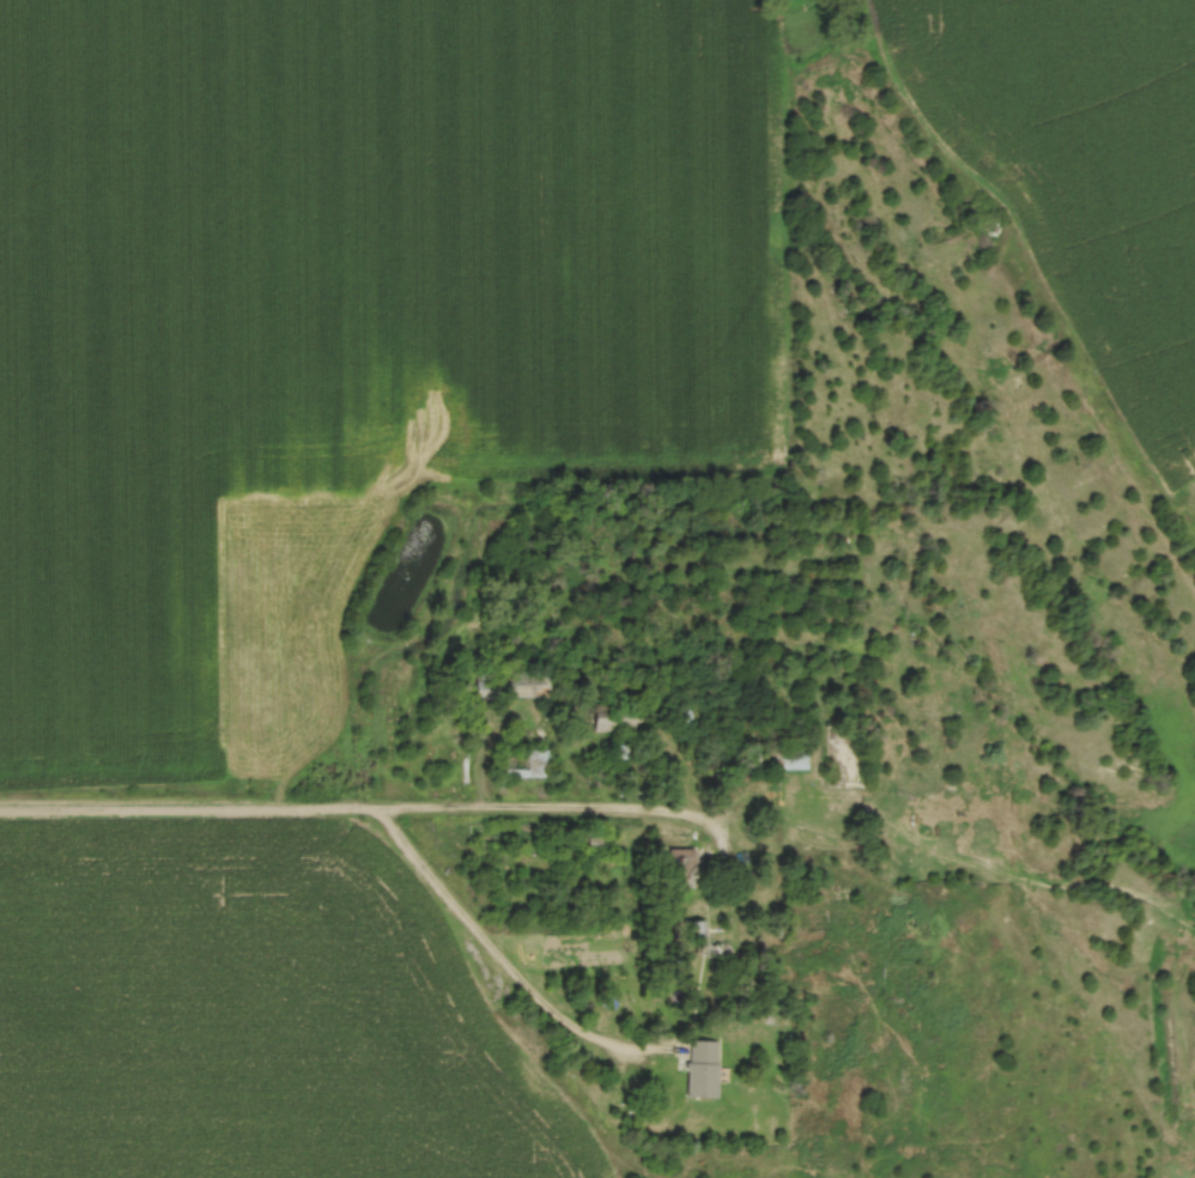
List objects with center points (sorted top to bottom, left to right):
building: (599, 725)
building: (528, 766)
road: (370, 812)
building: (675, 868)
road: (499, 959)
building: (697, 1071)

